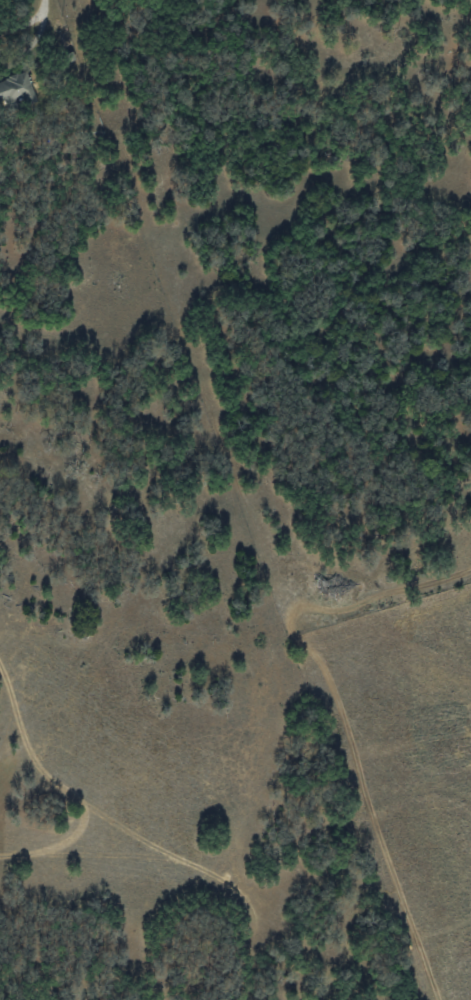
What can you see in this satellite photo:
road: (41, 16)
building: (15, 88)

